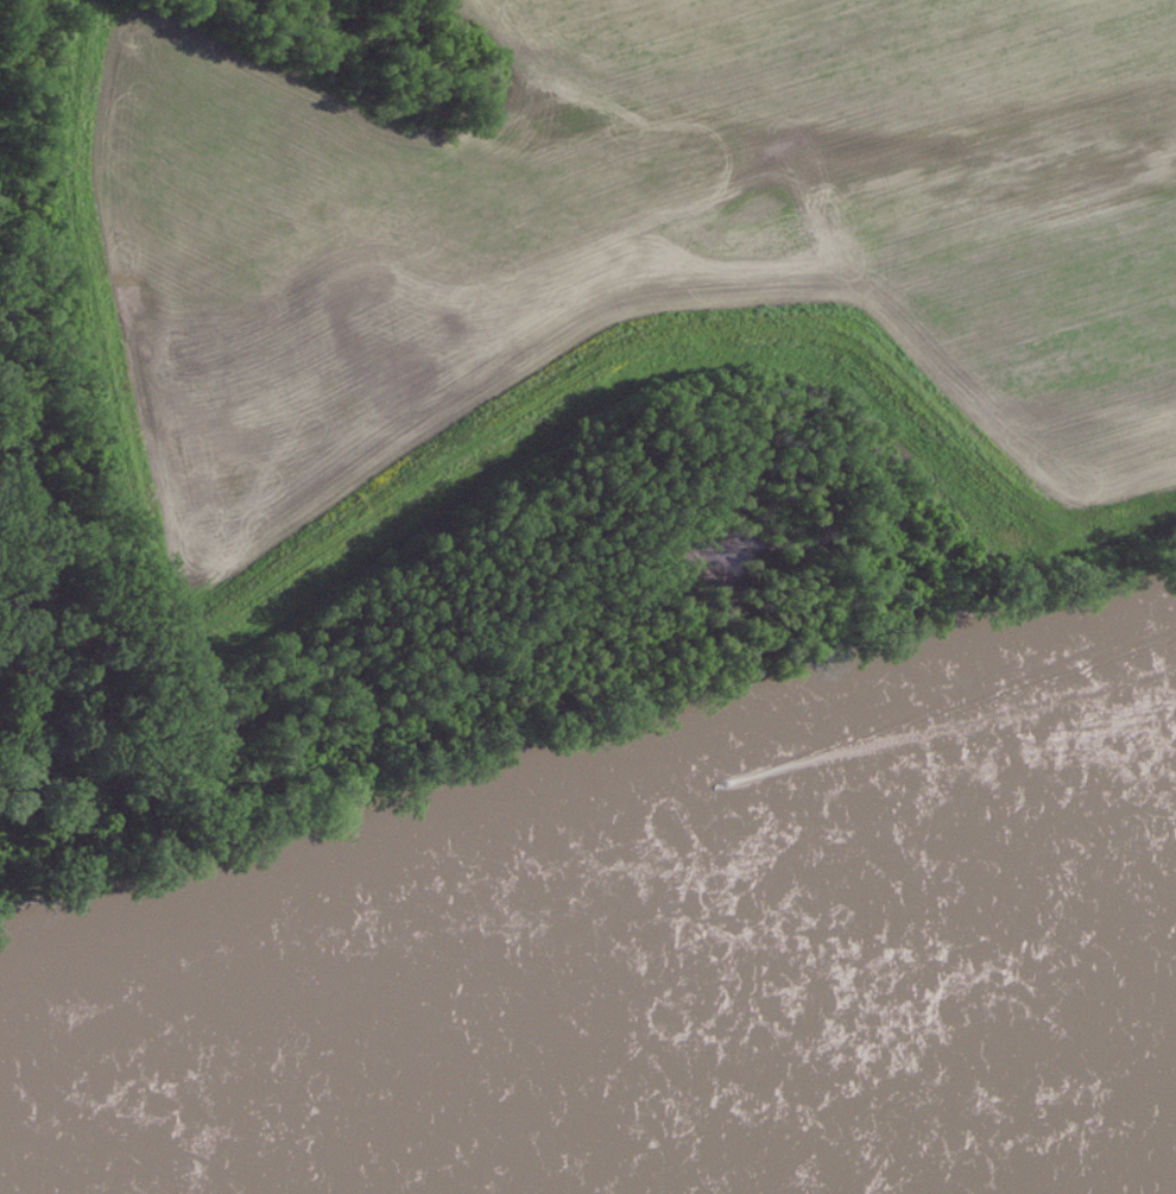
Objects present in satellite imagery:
river: (1127, 1180)

